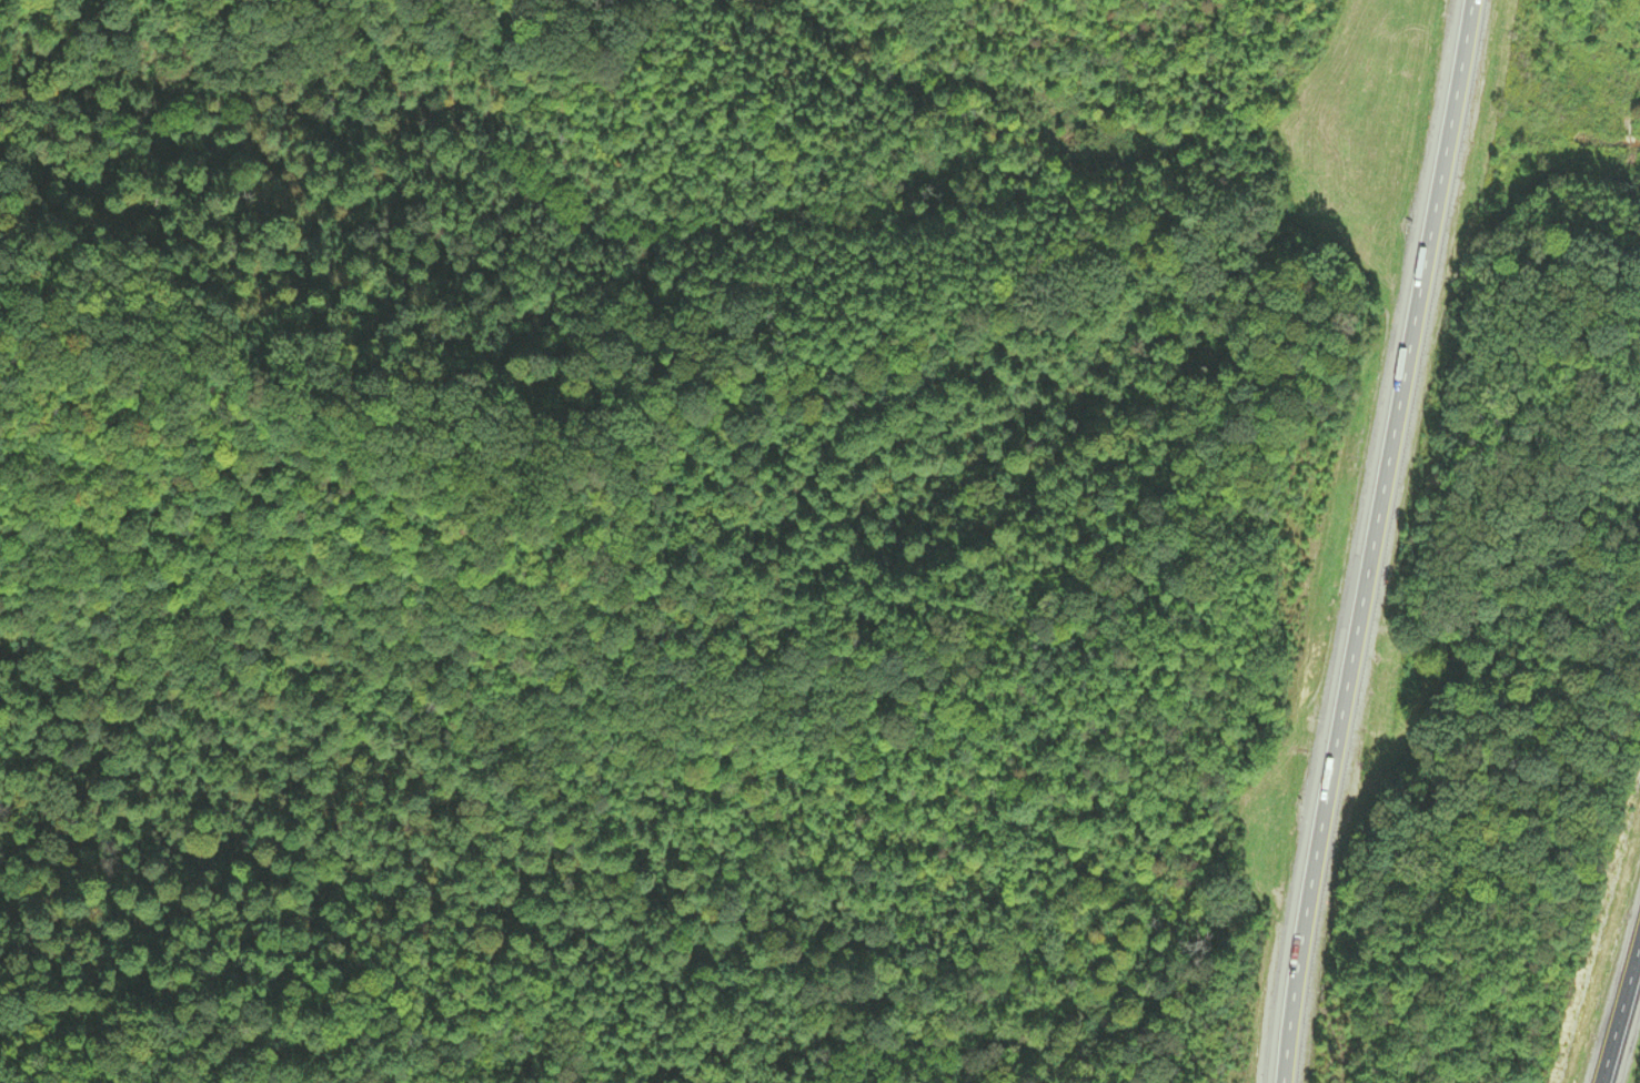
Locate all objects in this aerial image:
road: (1371, 540)
road: (1621, 1014)

